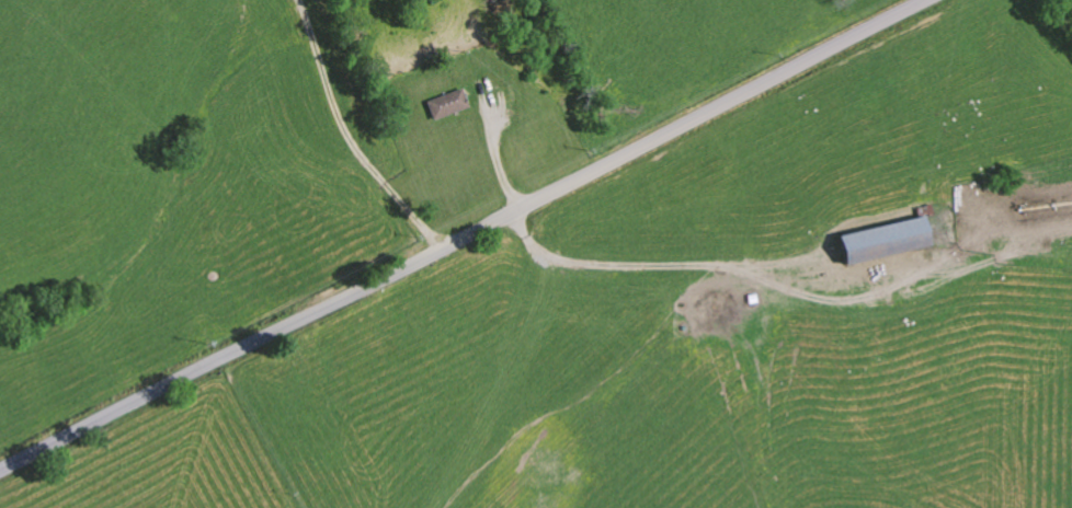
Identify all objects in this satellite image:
building: (447, 103)
road: (352, 135)
road: (463, 235)
road: (651, 264)

